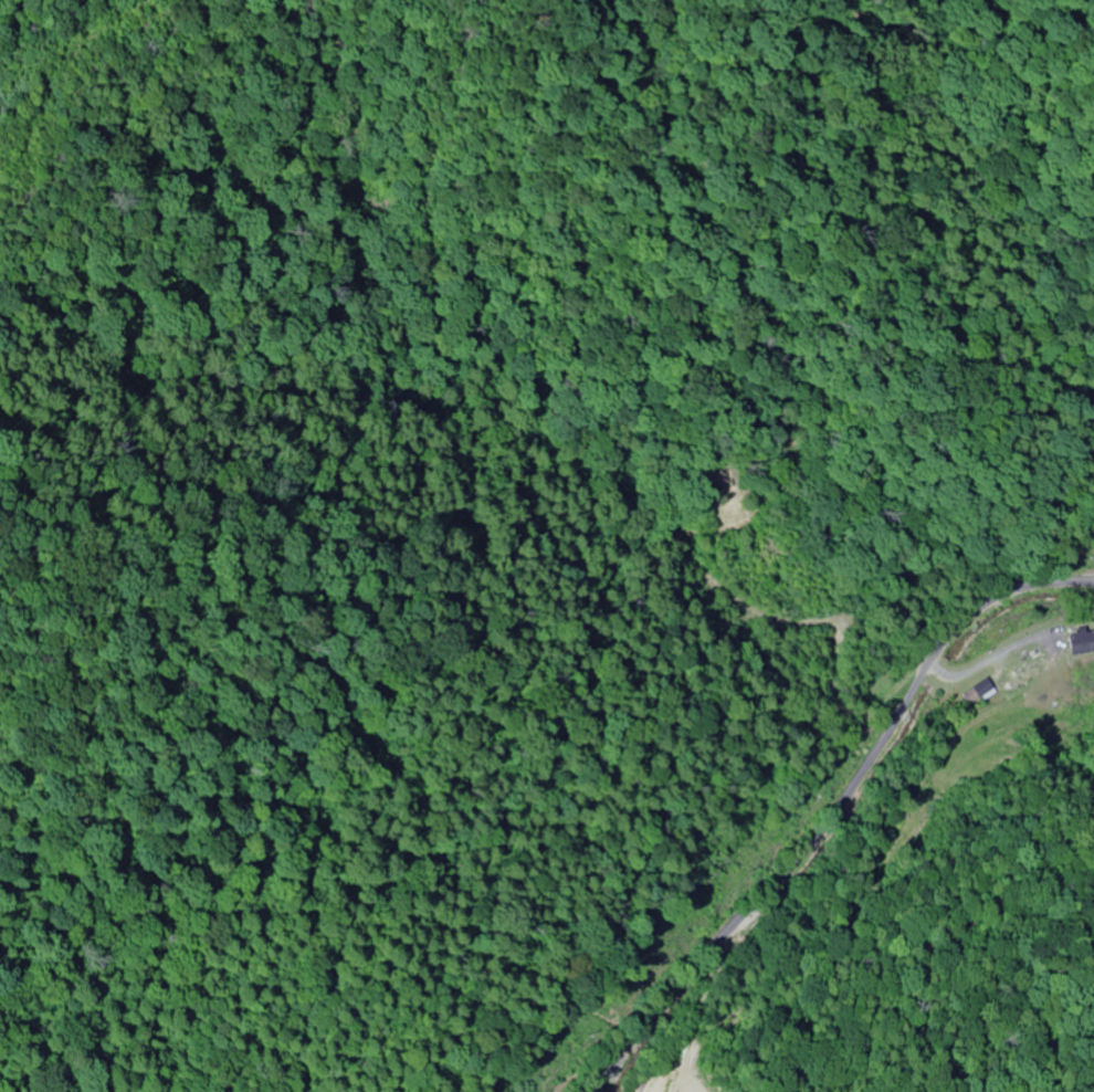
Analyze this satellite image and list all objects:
building: (1081, 643)
building: (1023, 672)
road: (785, 763)

